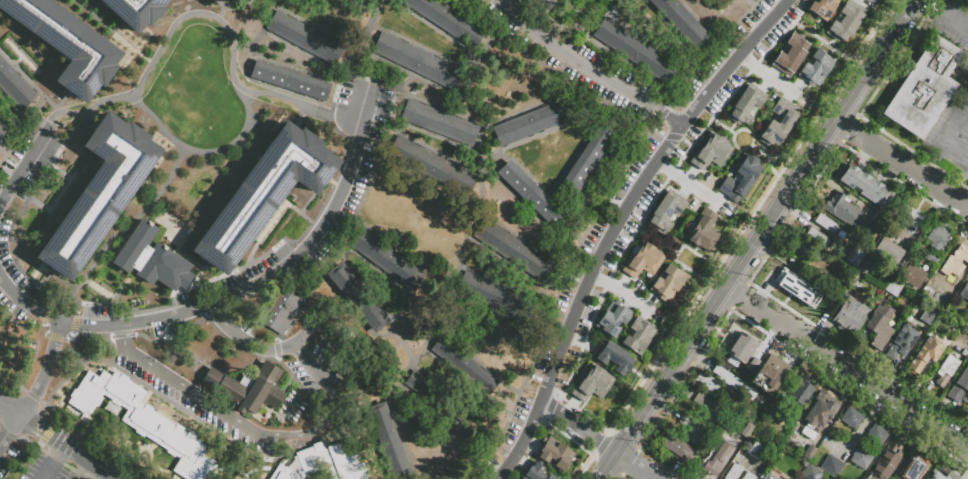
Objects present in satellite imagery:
building: (352, 0)
building: (224, 1)
road: (343, 2)
road: (611, 2)
road: (750, 3)
street lamp: (801, 7)
street lamp: (192, 8)
road: (229, 8)
road: (346, 8)
parking lot: (526, 8)
parking lot: (762, 8)
building: (824, 8)
building: (134, 11)
road: (801, 11)
street lamp: (175, 13)
road: (577, 13)
road: (220, 14)
road: (211, 15)
road: (602, 18)
road: (465, 19)
road: (561, 20)
building: (682, 20)
road: (698, 20)
building: (448, 21)
road: (956, 21)
building: (846, 22)
road: (312, 24)
road: (262, 25)
road: (437, 28)
road: (671, 30)
street lamp: (748, 30)
road: (112, 31)
parking lot: (776, 31)
building: (306, 38)
road: (824, 41)
road: (649, 42)
building: (64, 43)
road: (421, 47)
road: (133, 48)
building: (635, 50)
street lamp: (238, 51)
road: (300, 52)
road: (359, 52)
road: (24, 56)
building: (792, 56)
building: (418, 59)
road: (18, 60)
parking lot: (558, 61)
parking lot: (713, 62)
road: (283, 65)
parking lot: (611, 67)
road: (632, 67)
road: (585, 68)
road: (752, 69)
building: (818, 69)
road: (410, 73)
road: (771, 77)
building: (289, 79)
road: (28, 80)
road: (339, 81)
road: (572, 84)
building: (14, 86)
building: (922, 88)
street lamp: (123, 90)
road: (967, 90)
street lamp: (47, 95)
road: (463, 97)
road: (63, 98)
street lamp: (253, 101)
parking lot: (362, 107)
building: (747, 107)
road: (11, 108)
road: (303, 111)
road: (518, 112)
parking lot: (704, 117)
road: (274, 118)
street lamp: (149, 119)
road: (89, 121)
building: (531, 121)
road: (20, 123)
building: (440, 123)
road: (297, 124)
road: (845, 124)
road: (8, 125)
building: (778, 125)
road: (723, 126)
road: (952, 126)
building: (3, 132)
road: (539, 134)
road: (158, 136)
road: (434, 138)
road: (740, 148)
road: (579, 149)
road: (199, 151)
parking lot: (34, 152)
road: (762, 152)
building: (712, 156)
road: (2, 158)
building: (589, 158)
road: (774, 159)
road: (11, 160)
building: (429, 163)
parking lot: (636, 164)
road: (23, 168)
road: (912, 169)
road: (672, 171)
road: (369, 177)
road: (330, 181)
building: (742, 181)
road: (689, 183)
road: (639, 184)
road: (544, 187)
building: (866, 189)
parking lot: (1, 190)
building: (260, 191)
road: (314, 193)
building: (101, 194)
building: (532, 195)
road: (475, 208)
road: (527, 208)
road: (50, 211)
building: (842, 211)
parking lot: (341, 212)
road: (278, 215)
building: (667, 215)
street lamp: (299, 217)
road: (17, 219)
building: (911, 219)
road: (126, 221)
building: (881, 222)
road: (589, 225)
parking lot: (631, 225)
road: (764, 225)
building: (826, 226)
road: (126, 231)
road: (305, 231)
road: (159, 232)
building: (706, 232)
building: (897, 233)
road: (154, 237)
road: (734, 239)
building: (818, 239)
road: (657, 240)
building: (937, 240)
road: (166, 243)
building: (801, 249)
building: (514, 250)
street lamp: (263, 251)
street lamp: (457, 251)
road: (677, 251)
building: (889, 255)
building: (857, 259)
parking lot: (7, 260)
building: (389, 260)
building: (932, 260)
building: (152, 261)
building: (956, 262)
building: (644, 265)
road: (513, 266)
road: (54, 271)
building: (872, 272)
road: (380, 274)
parking lot: (575, 275)
parking lot: (237, 277)
building: (914, 278)
road: (438, 279)
road: (443, 281)
road: (505, 284)
building: (670, 286)
building: (792, 286)
road: (315, 288)
road: (367, 288)
building: (895, 289)
road: (735, 290)
road: (125, 291)
road: (238, 291)
building: (490, 291)
road: (49, 292)
building: (966, 293)
road: (623, 294)
building: (360, 298)
building: (943, 299)
road: (265, 307)
road: (150, 308)
building: (823, 308)
building: (284, 309)
parking lot: (18, 312)
road: (51, 312)
parking lot: (587, 312)
parking lot: (103, 313)
building: (851, 318)
road: (297, 319)
building: (932, 319)
building: (613, 321)
building: (909, 326)
road: (212, 328)
building: (880, 328)
building: (965, 332)
parking lot: (147, 335)
road: (243, 337)
building: (639, 337)
road: (41, 339)
building: (946, 342)
road: (407, 344)
building: (901, 344)
road: (66, 349)
building: (742, 349)
road: (342, 351)
road: (577, 356)
road: (269, 358)
building: (614, 360)
road: (195, 362)
road: (478, 362)
building: (464, 364)
road: (446, 367)
building: (920, 367)
parking lot: (567, 369)
building: (749, 369)
road: (44, 372)
road: (856, 372)
building: (946, 373)
building: (773, 374)
building: (708, 384)
building: (735, 384)
building: (248, 388)
building: (593, 388)
building: (960, 390)
building: (802, 393)
building: (435, 395)
road: (460, 397)
building: (706, 408)
road: (393, 409)
building: (822, 411)
building: (776, 412)
road: (15, 414)
parking lot: (520, 415)
road: (445, 417)
building: (143, 420)
building: (852, 421)
road: (245, 425)
road: (577, 425)
road: (78, 426)
road: (48, 428)
road: (40, 430)
building: (693, 433)
road: (10, 434)
building: (878, 437)
building: (388, 439)
road: (27, 440)
road: (522, 441)
road: (58, 451)
building: (676, 451)
parking lot: (8, 452)
building: (756, 452)
building: (722, 454)
building: (555, 456)
road: (83, 457)
building: (323, 461)
building: (862, 461)
building: (887, 461)
building: (797, 464)
road: (606, 465)
road: (635, 465)
building: (915, 467)
building: (833, 468)
parking lot: (42, 469)
road: (47, 469)
building: (536, 473)
building: (735, 473)
building: (768, 476)
building: (944, 476)
building: (749, 477)

